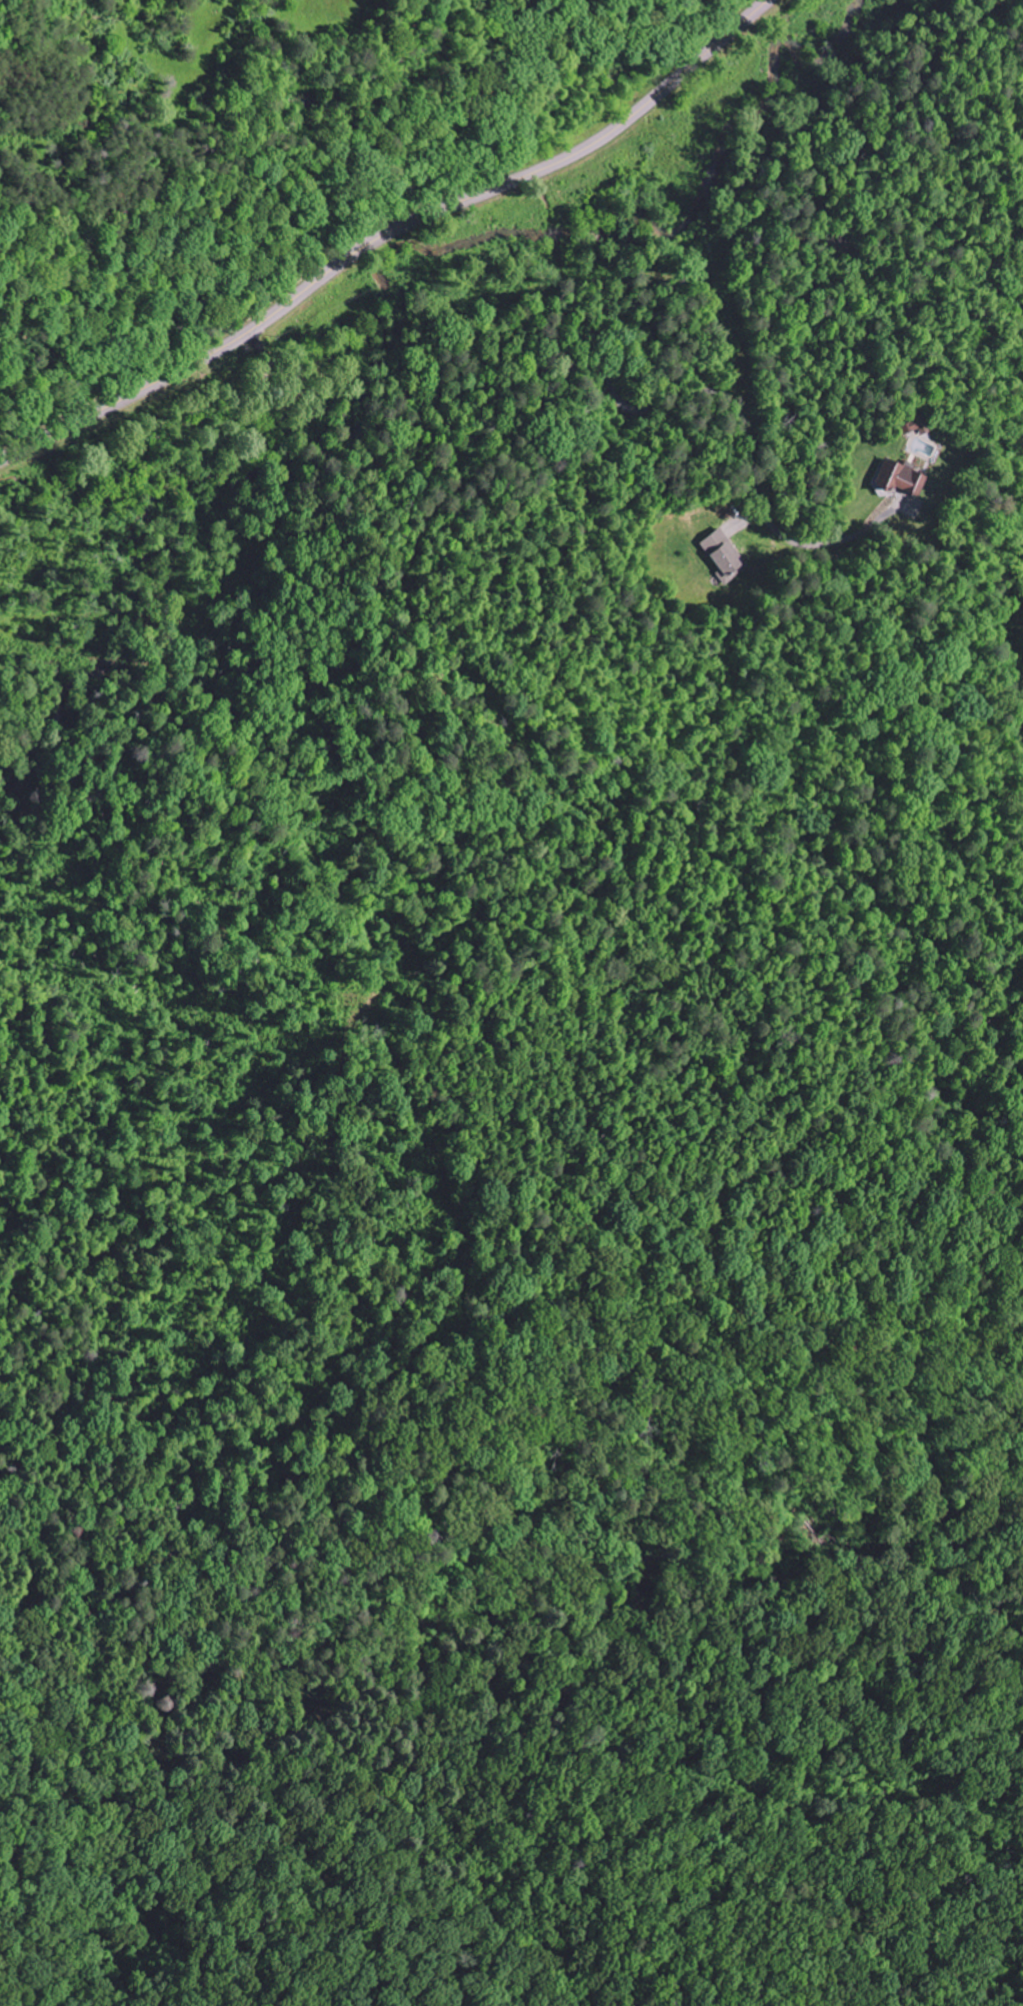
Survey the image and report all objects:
road: (388, 234)
road: (388, 394)
building: (902, 478)
building: (721, 554)

